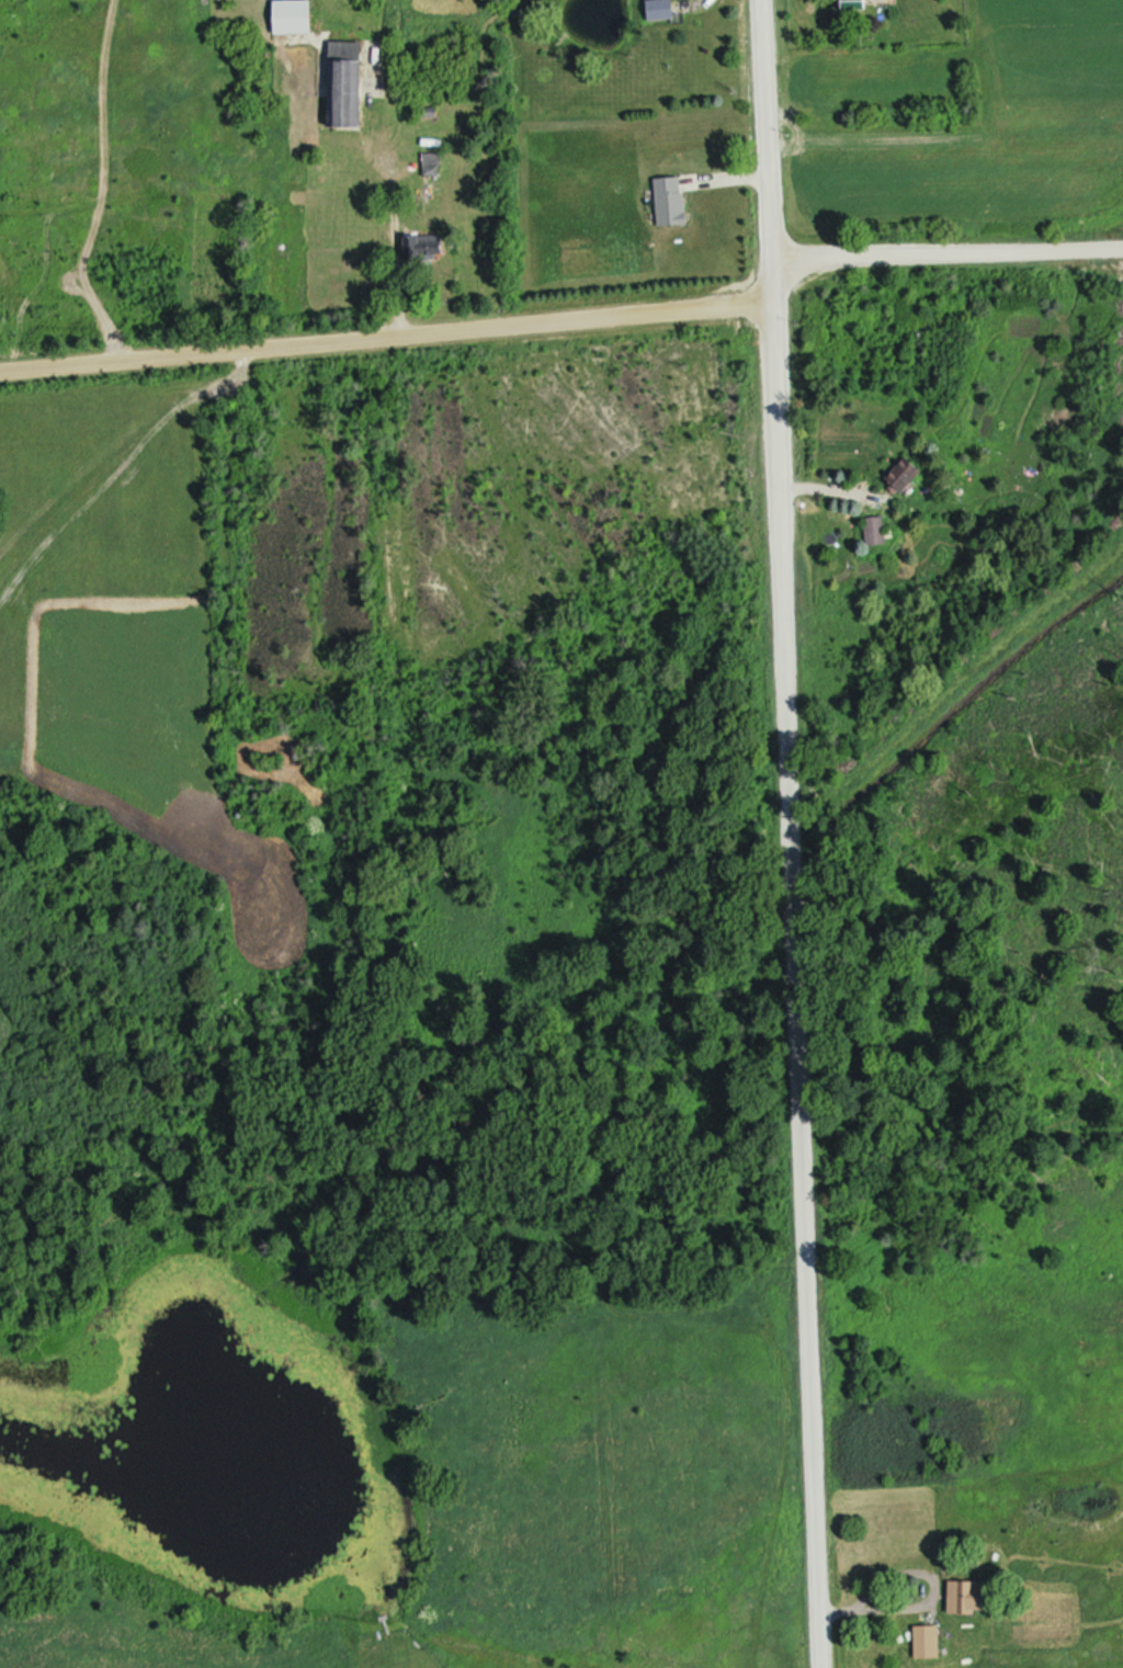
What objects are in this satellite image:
building: (857, 5)
building: (660, 10)
building: (293, 18)
building: (345, 86)
road: (762, 128)
building: (432, 167)
building: (671, 203)
building: (424, 249)
road: (944, 252)
road: (384, 333)
building: (903, 478)
building: (875, 534)
road: (791, 963)
building: (971, 1600)
road: (935, 1604)
building: (927, 1645)

